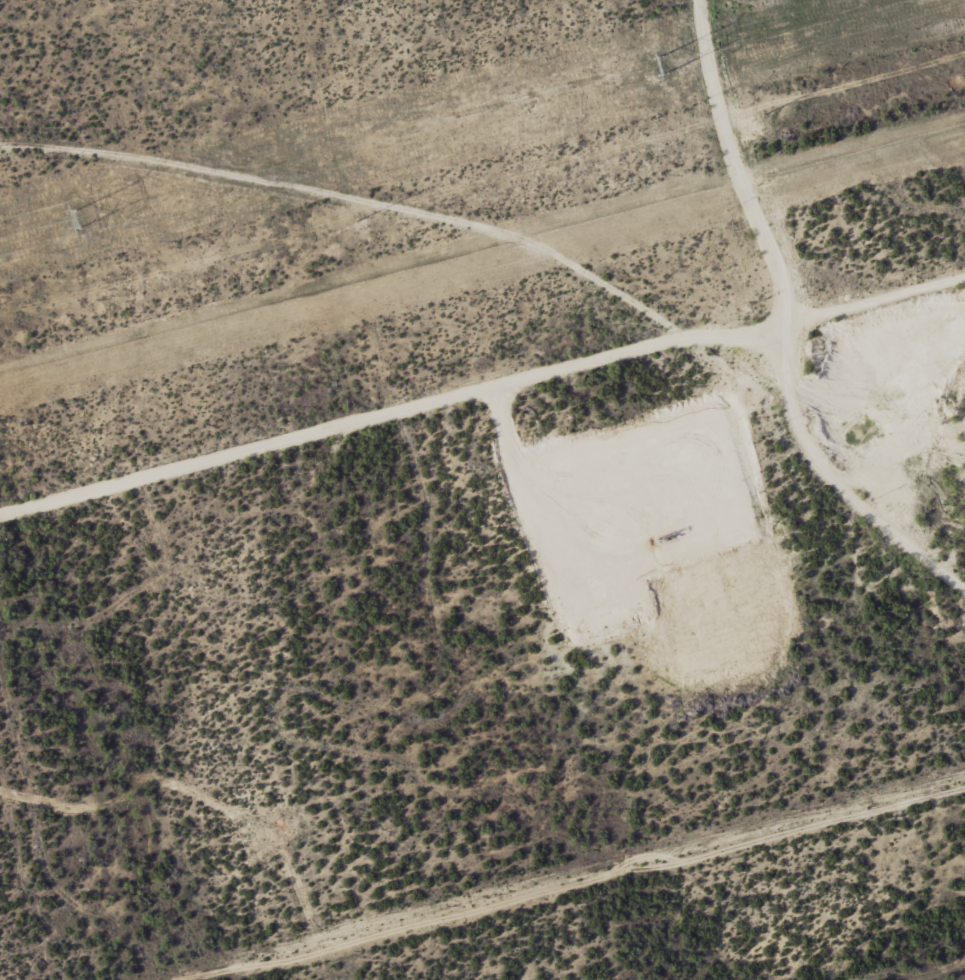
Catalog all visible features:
power tower: (666, 60)
power tower: (765, 115)
power tower: (357, 220)
power tower: (81, 221)

